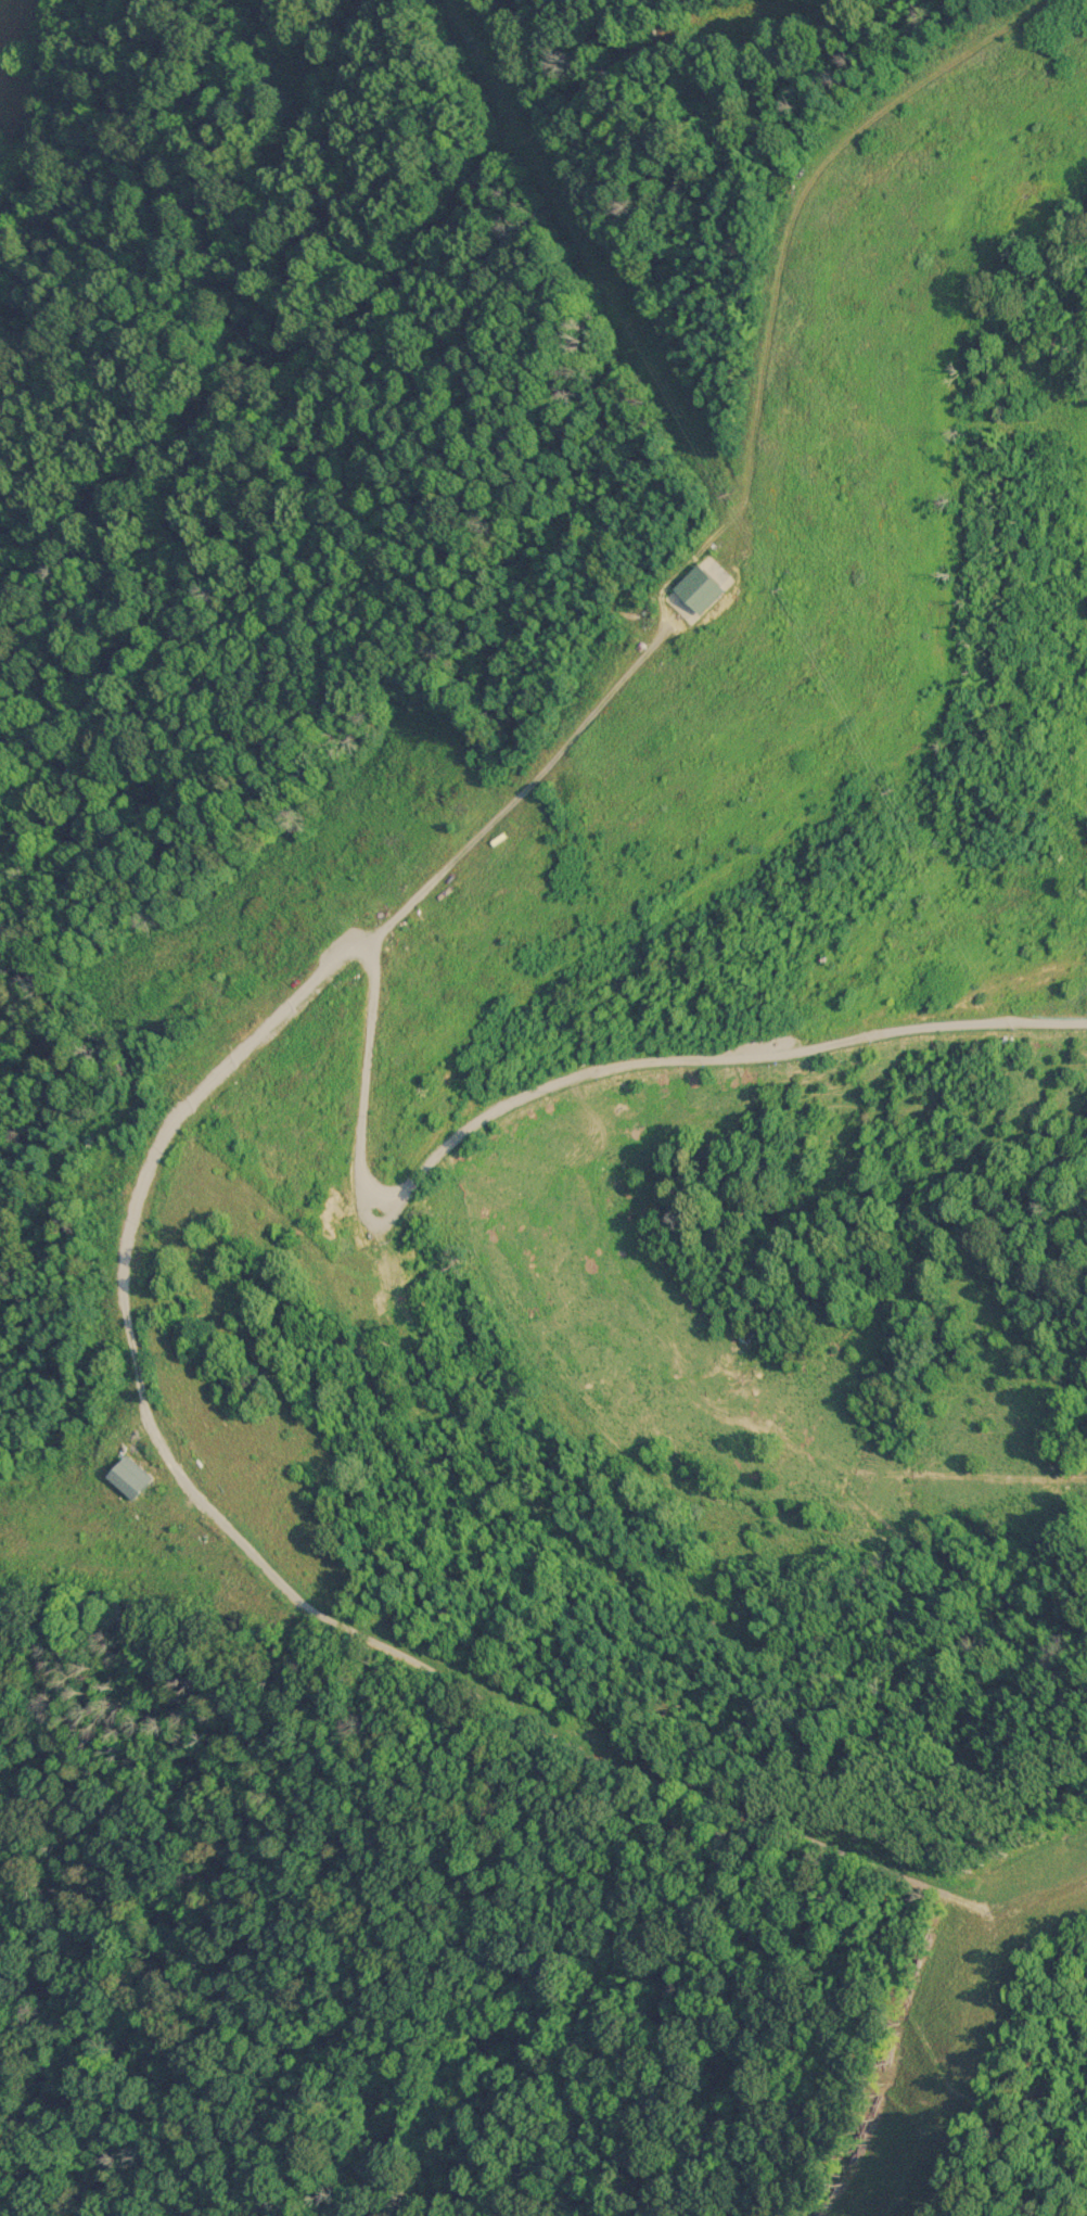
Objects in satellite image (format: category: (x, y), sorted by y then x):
road: (613, 1043)
road: (918, 1074)

